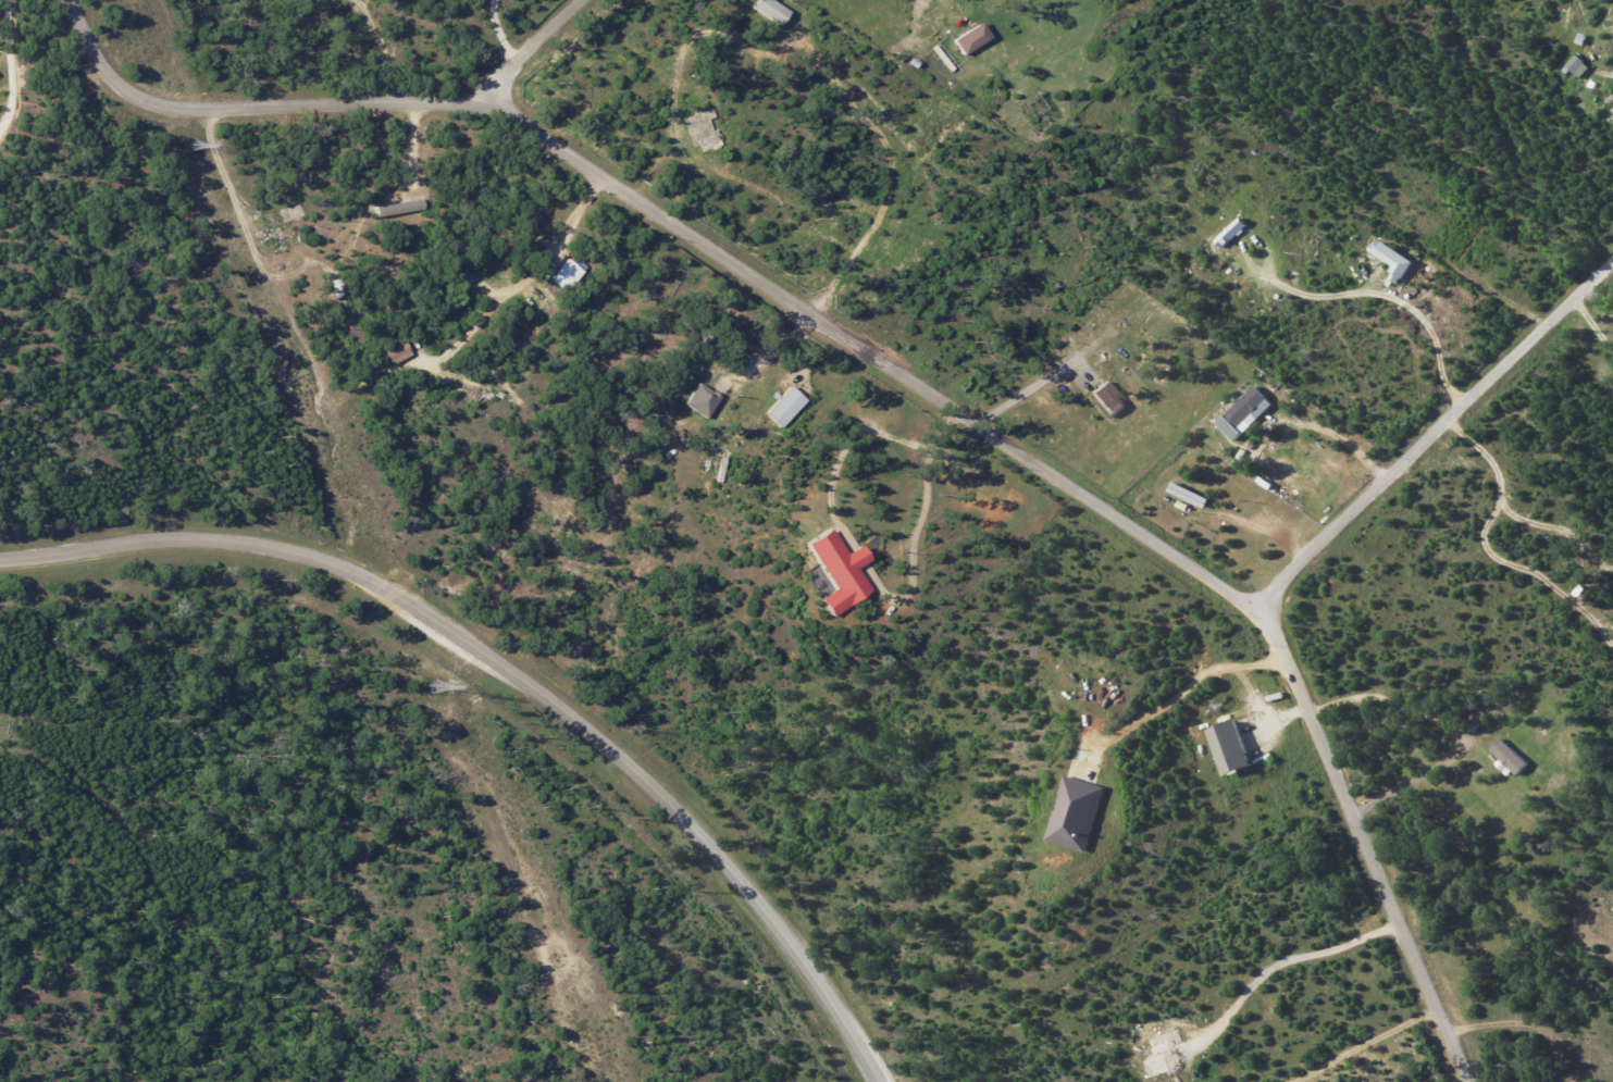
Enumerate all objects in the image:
building: (769, 10)
road: (497, 36)
building: (968, 38)
road: (530, 46)
building: (1578, 66)
road: (9, 70)
road: (380, 82)
power tower: (193, 147)
building: (397, 207)
road: (108, 227)
building: (1230, 234)
building: (1391, 262)
building: (578, 264)
building: (562, 275)
road: (522, 285)
road: (1388, 294)
road: (1598, 320)
road: (892, 368)
road: (1034, 388)
building: (1107, 399)
building: (700, 400)
building: (782, 407)
building: (1244, 414)
road: (1434, 437)
road: (841, 453)
road: (1472, 525)
road: (917, 530)
road: (847, 556)
building: (829, 570)
road: (517, 674)
power tower: (432, 688)
road: (1183, 692)
road: (1455, 745)
building: (1228, 747)
building: (1509, 758)
building: (1068, 813)
road: (1299, 971)
road: (1381, 1049)

